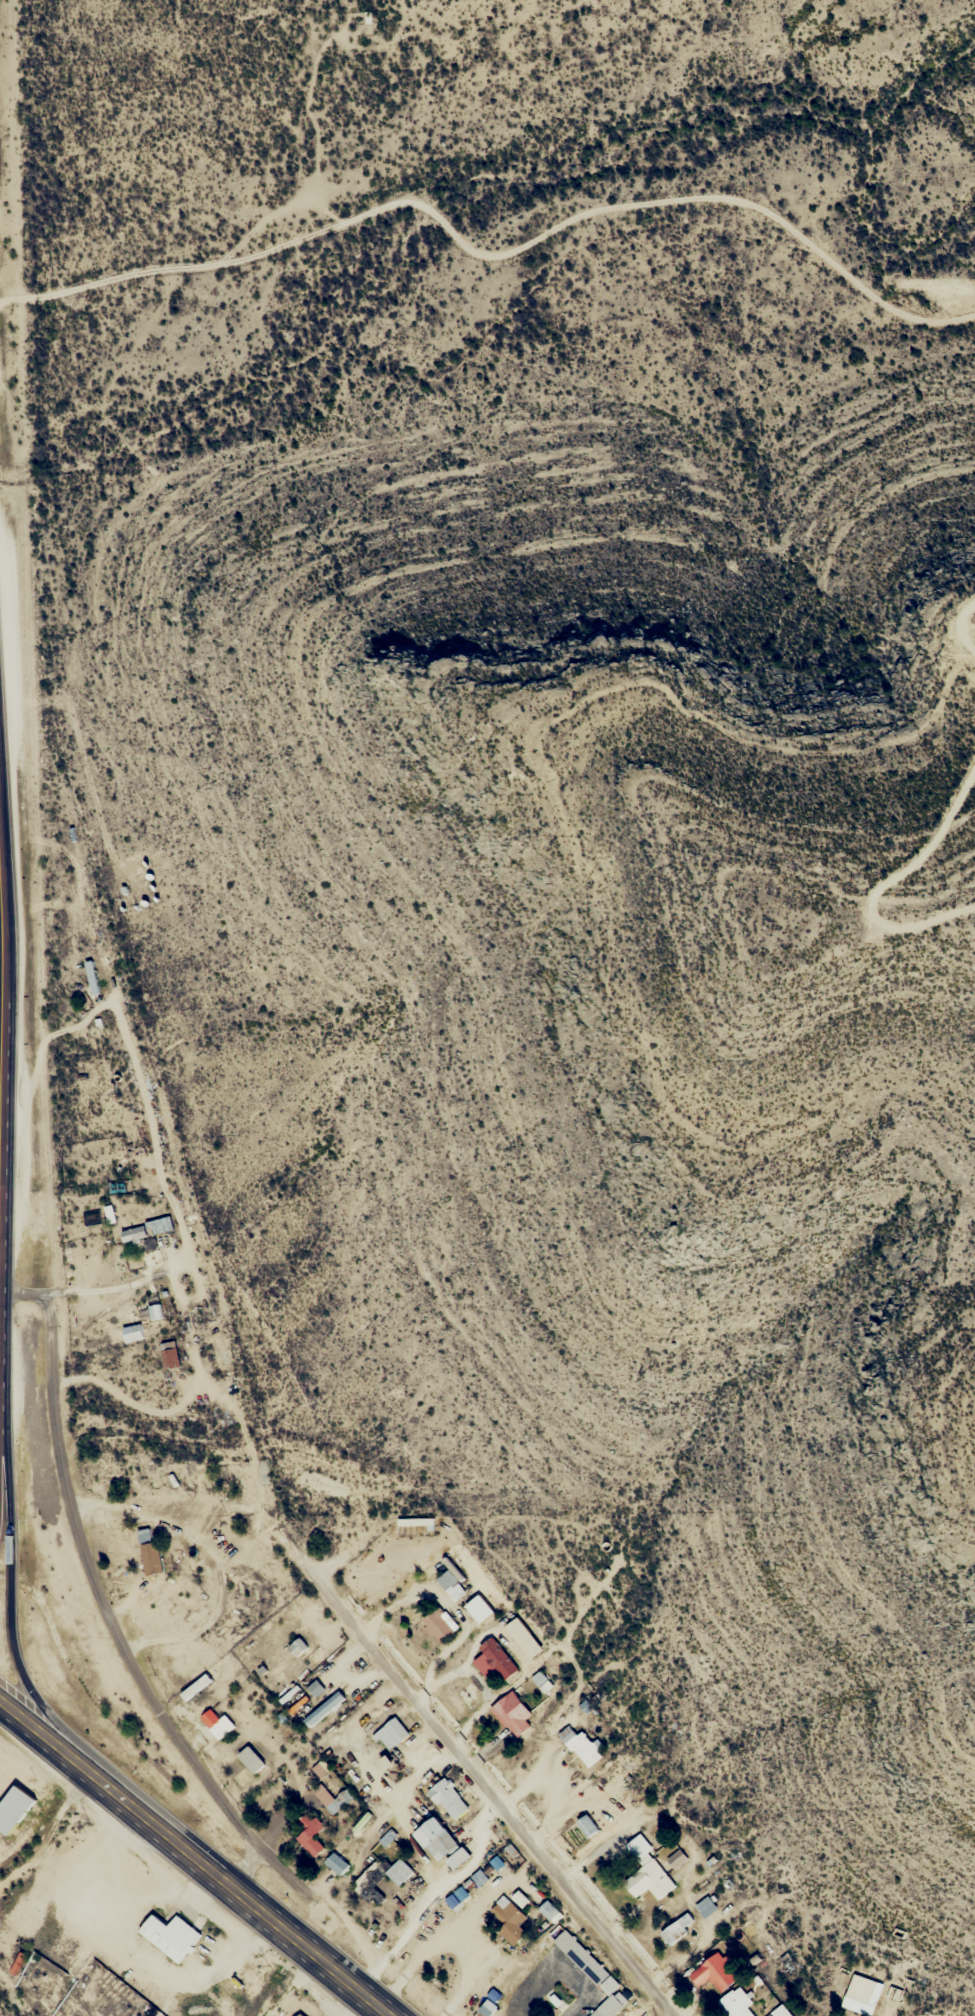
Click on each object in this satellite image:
road: (495, 254)
road: (962, 626)
road: (887, 881)
building: (161, 1224)
building: (133, 1234)
building: (170, 1354)
building: (149, 1551)
building: (446, 1580)
building: (278, 1600)
road: (99, 1602)
building: (473, 1612)
road: (10, 1620)
building: (436, 1626)
building: (523, 1637)
building: (254, 1643)
building: (308, 1653)
building: (494, 1659)
building: (323, 1709)
building: (512, 1714)
building: (216, 1723)
building: (391, 1734)
road: (51, 1740)
building: (581, 1747)
building: (251, 1759)
road: (472, 1767)
building: (448, 1799)
building: (328, 1800)
building: (11, 1808)
building: (587, 1825)
building: (310, 1834)
building: (387, 1838)
building: (438, 1839)
building: (458, 1858)
building: (676, 1859)
road: (244, 1861)
building: (336, 1864)
building: (647, 1871)
building: (381, 1877)
road: (250, 1894)
building: (705, 1907)
building: (548, 1910)
building: (511, 1919)
building: (678, 1928)
building: (1, 1935)
building: (166, 1935)
building: (10, 1953)
building: (714, 1973)
building: (593, 1974)
building: (861, 1995)
building: (736, 2003)
building: (294, 2014)
building: (298, 2015)

